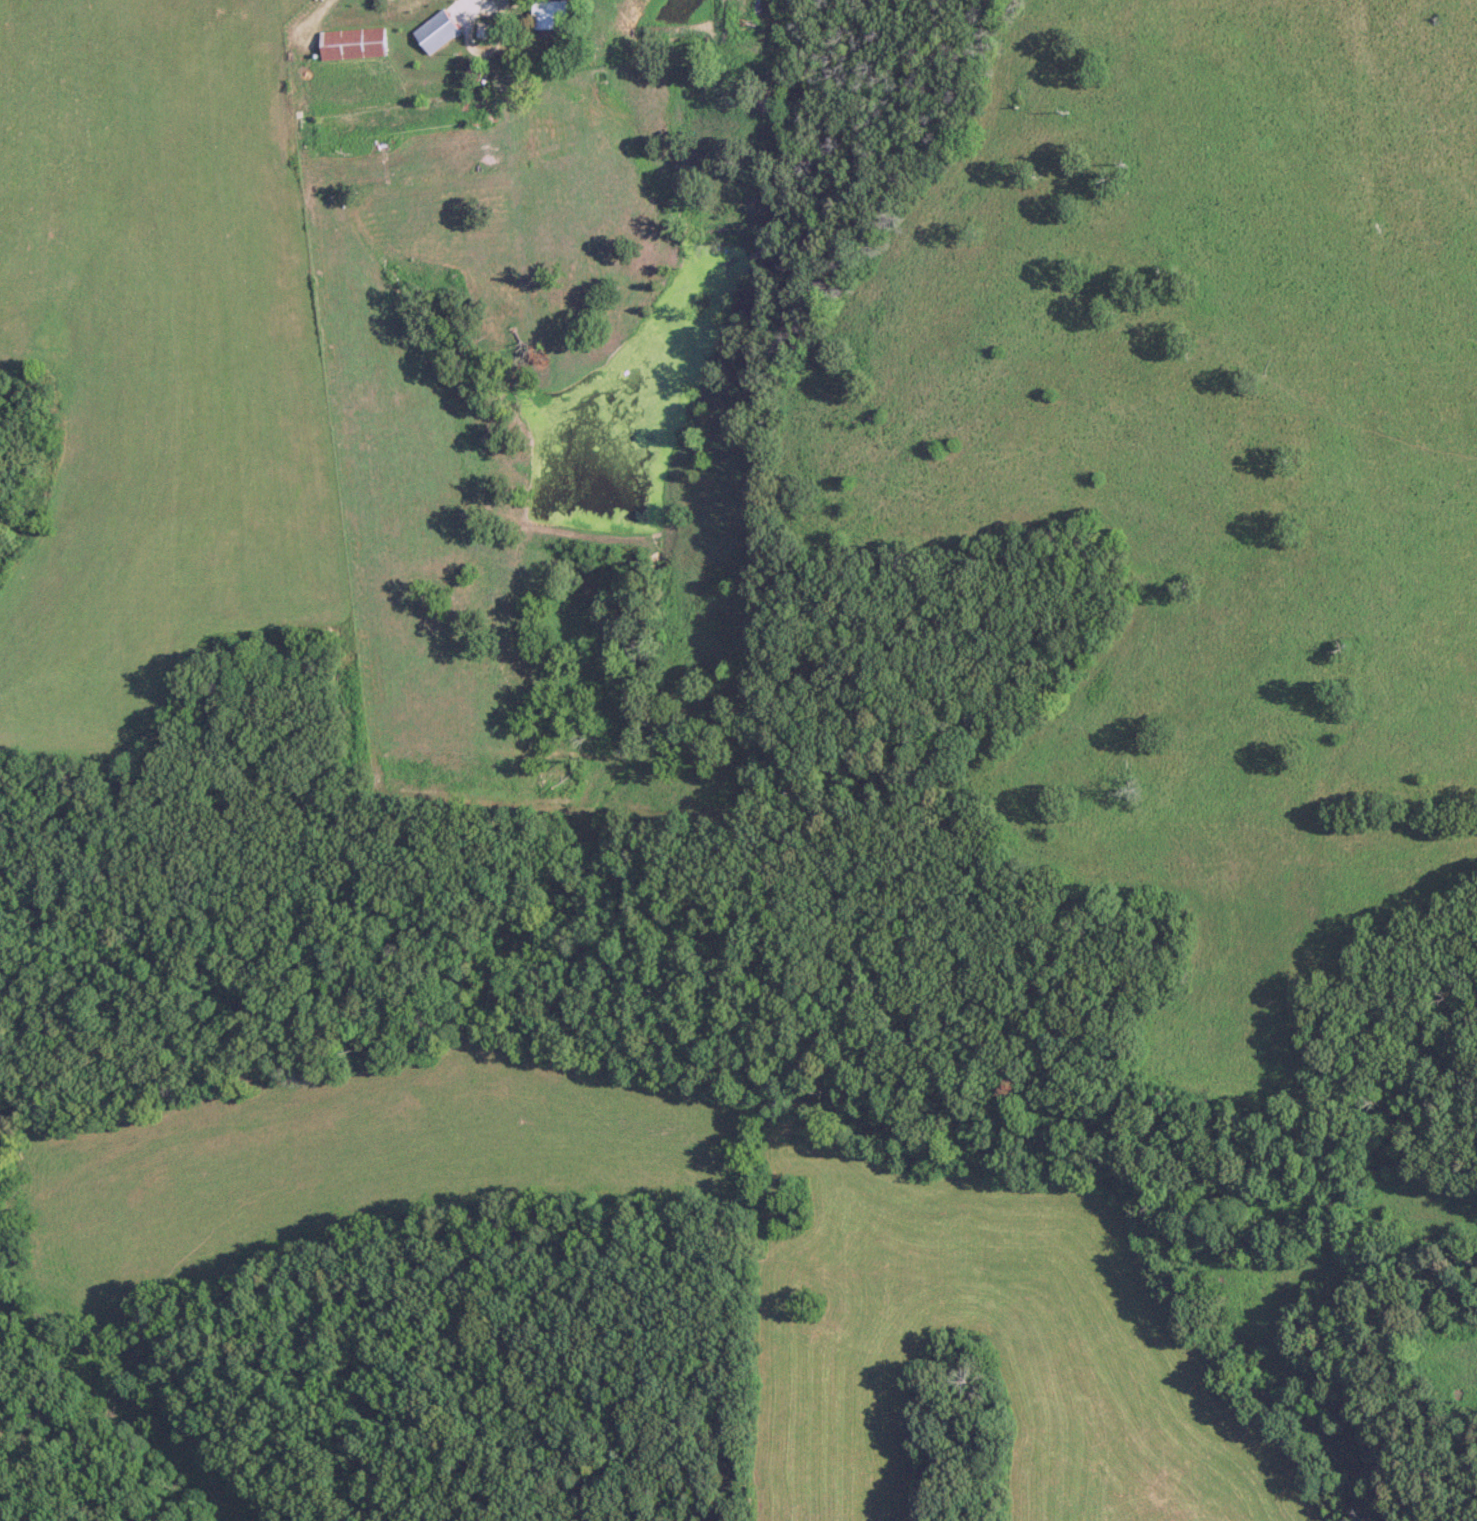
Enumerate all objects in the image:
building: (548, 14)
building: (739, 15)
building: (434, 30)
building: (350, 42)
building: (387, 119)

